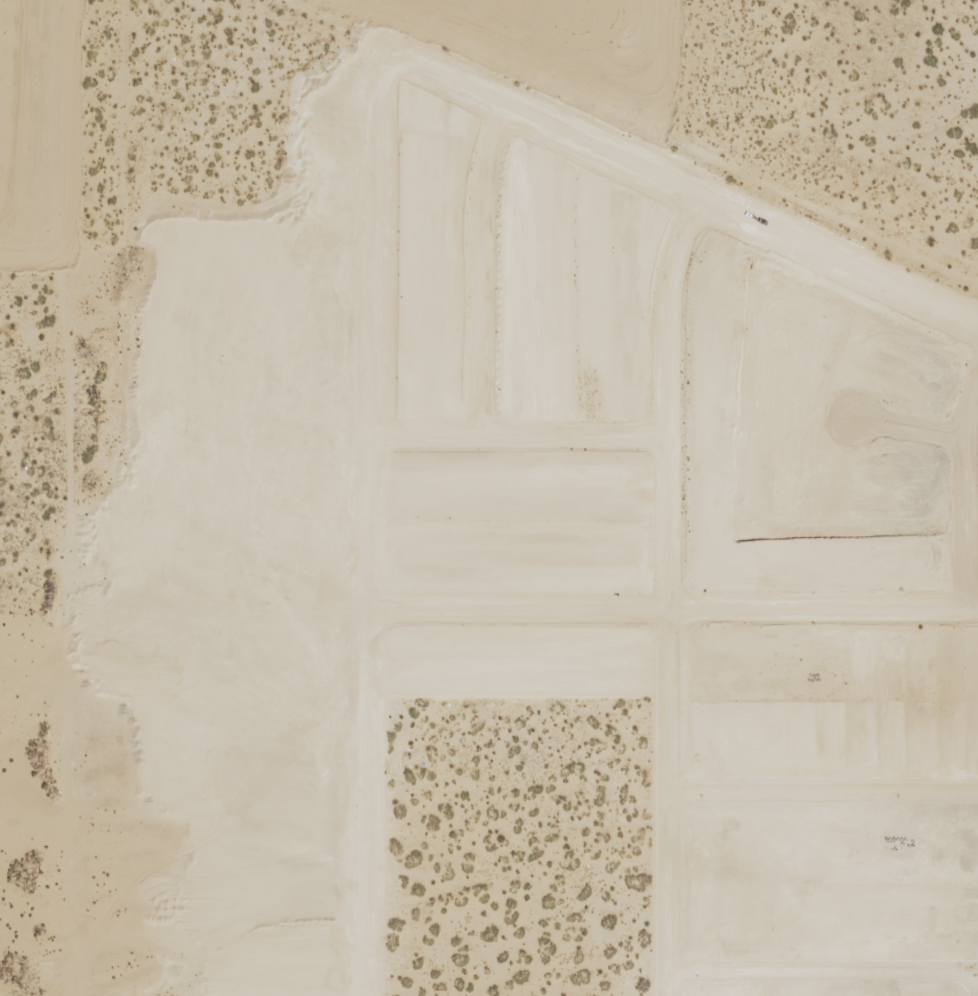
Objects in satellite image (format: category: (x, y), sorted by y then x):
road: (32, 259)

